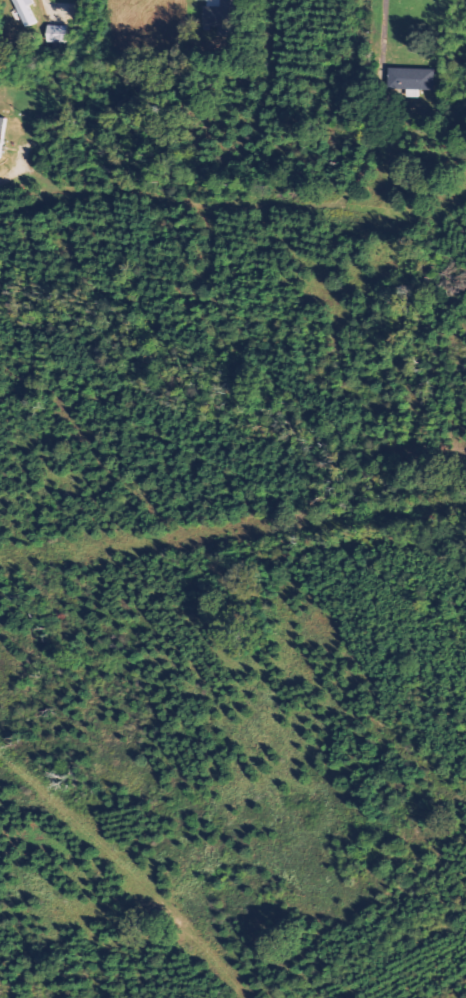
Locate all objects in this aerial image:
building: (28, 12)
building: (226, 16)
building: (61, 34)
building: (414, 80)
building: (3, 135)

